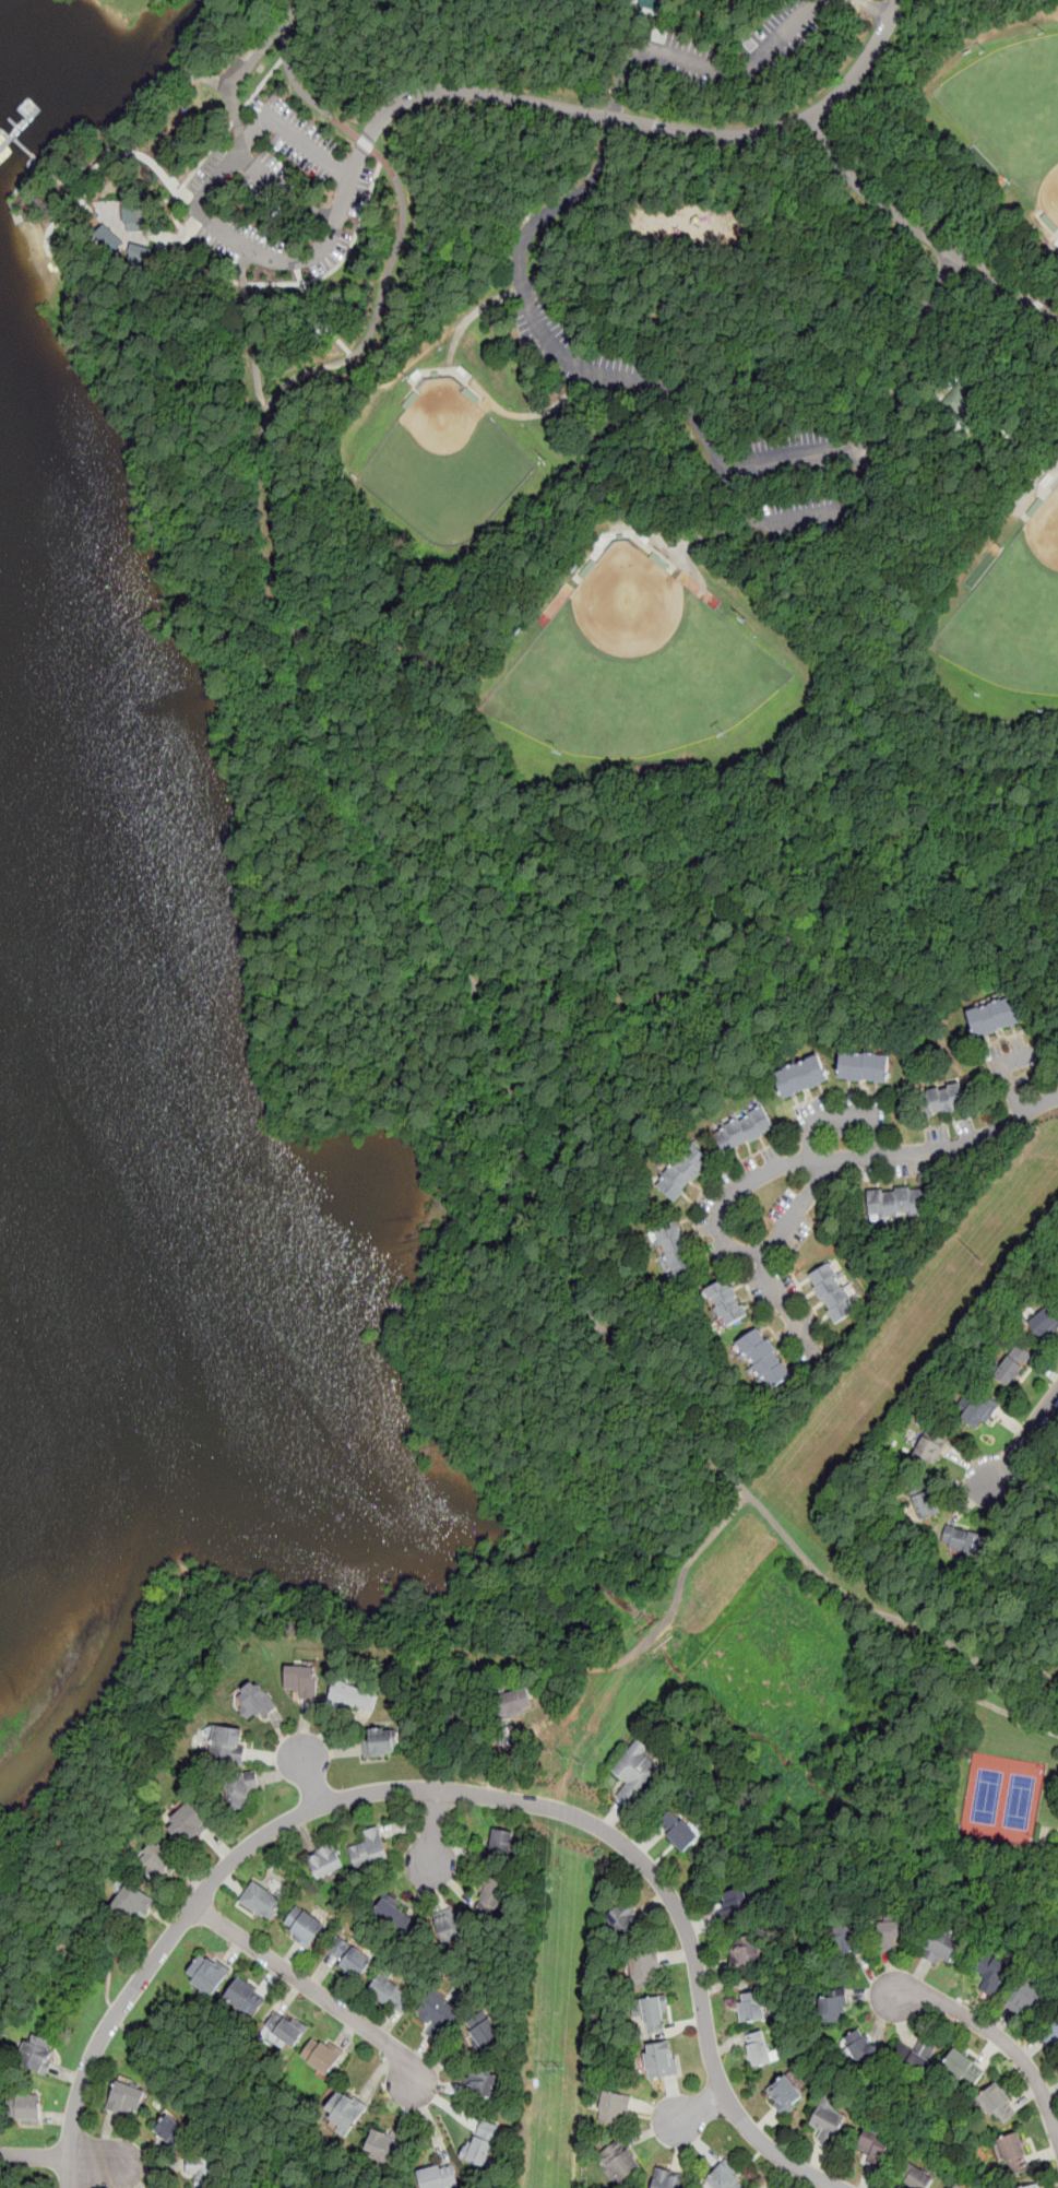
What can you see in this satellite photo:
road: (298, 4)
building: (647, 5)
road: (876, 7)
road: (661, 25)
road: (627, 28)
road: (744, 31)
parking lot: (744, 50)
road: (251, 58)
road: (709, 63)
road: (202, 76)
road: (261, 85)
road: (668, 93)
road: (158, 105)
park: (1017, 105)
road: (239, 117)
road: (645, 125)
pier: (22, 127)
road: (287, 132)
road: (107, 140)
road: (102, 145)
road: (658, 161)
road: (70, 169)
road: (62, 185)
road: (84, 191)
parking lot: (277, 192)
road: (131, 203)
road: (467, 204)
road: (72, 208)
road: (1033, 210)
building: (135, 217)
road: (199, 218)
road: (403, 222)
road: (191, 225)
road: (212, 225)
road: (923, 230)
building: (107, 236)
road: (144, 237)
building: (136, 256)
road: (342, 259)
road: (201, 263)
road: (295, 264)
road: (816, 274)
road: (724, 275)
road: (241, 276)
road: (317, 316)
road: (543, 331)
parking lot: (574, 347)
road: (1000, 351)
road: (912, 357)
road: (407, 362)
road: (421, 375)
road: (471, 385)
building: (958, 394)
road: (953, 435)
road: (798, 460)
park: (450, 466)
parking lot: (798, 480)
road: (1043, 488)
road: (741, 501)
road: (868, 502)
road: (832, 512)
road: (692, 537)
road: (285, 557)
park: (1017, 619)
road: (859, 641)
road: (835, 667)
park: (642, 671)
road: (335, 703)
road: (666, 837)
park: (483, 850)
building: (994, 1016)
building: (865, 1067)
parking lot: (1012, 1067)
building: (801, 1076)
road: (1006, 1076)
road: (520, 1098)
building: (943, 1099)
road: (841, 1117)
parking lot: (842, 1119)
parking lot: (964, 1127)
building: (744, 1131)
parking lot: (937, 1134)
road: (950, 1146)
parking lot: (771, 1154)
parking lot: (747, 1167)
parking lot: (904, 1168)
parking lot: (870, 1171)
building: (682, 1173)
parking lot: (725, 1180)
parking lot: (708, 1199)
building: (895, 1201)
parking lot: (782, 1206)
parking lot: (703, 1228)
parking lot: (798, 1233)
road: (722, 1238)
building: (675, 1252)
parking lot: (713, 1252)
power tower: (975, 1256)
parking lot: (788, 1282)
parking lot: (756, 1288)
building: (831, 1292)
building: (727, 1304)
road: (783, 1305)
building: (1042, 1317)
parking lot: (815, 1324)
parking lot: (795, 1347)
building: (760, 1361)
building: (1008, 1363)
road: (1043, 1367)
building: (975, 1409)
road: (1010, 1421)
road: (1024, 1436)
building: (928, 1451)
road: (967, 1465)
road: (1020, 1473)
road: (1046, 1477)
road: (1056, 1479)
road: (954, 1481)
road: (970, 1502)
building: (927, 1504)
building: (963, 1539)
road: (699, 1552)
road: (1022, 1607)
road: (875, 1609)
road: (210, 1621)
road: (655, 1633)
building: (300, 1683)
building: (352, 1696)
building: (254, 1701)
building: (514, 1702)
road: (1030, 1726)
building: (379, 1742)
building: (228, 1743)
power tower: (564, 1757)
building: (634, 1772)
road: (308, 1773)
building: (233, 1789)
road: (450, 1791)
park: (1001, 1802)
building: (187, 1823)
building: (678, 1830)
road: (433, 1834)
building: (501, 1845)
building: (369, 1849)
building: (155, 1859)
building: (324, 1862)
building: (491, 1899)
building: (262, 1902)
building: (131, 1904)
building: (734, 1906)
building: (392, 1912)
building: (623, 1920)
building: (449, 1925)
building: (304, 1928)
building: (890, 1933)
building: (849, 1942)
building: (942, 1945)
building: (746, 1951)
building: (348, 1958)
building: (644, 1971)
building: (991, 1973)
building: (207, 1977)
road: (318, 1994)
building: (391, 1996)
building: (245, 1998)
building: (1029, 2001)
building: (752, 2006)
building: (834, 2011)
building: (653, 2014)
building: (438, 2018)
road: (992, 2031)
building: (284, 2032)
building: (483, 2032)
building: (1054, 2036)
building: (860, 2047)
building: (760, 2048)
building: (38, 2054)
road: (187, 2055)
building: (320, 2056)
building: (914, 2058)
building: (659, 2061)
power tower: (552, 2068)
building: (964, 2069)
building: (480, 2084)
building: (785, 2094)
building: (127, 2100)
building: (998, 2103)
building: (25, 2108)
building: (613, 2108)
road: (693, 2113)
building: (342, 2114)
building: (828, 2122)
building: (174, 2131)
building: (482, 2144)
building: (873, 2146)
building: (384, 2148)
building: (1014, 2153)
road: (70, 2156)
building: (621, 2161)
building: (199, 2171)
building: (438, 2177)
building: (916, 2177)
building: (667, 2179)
building: (724, 2179)
building: (956, 2186)
building: (959, 2186)
building: (1033, 2186)

